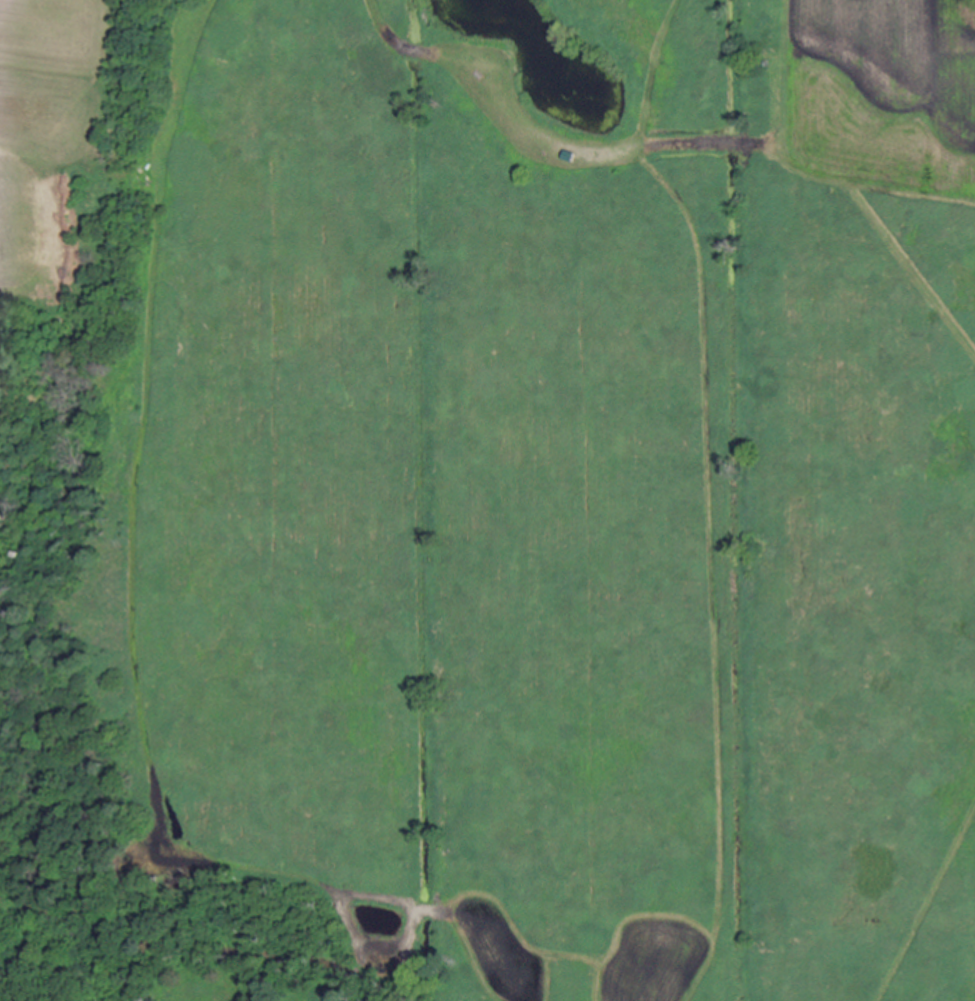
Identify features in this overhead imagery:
river: (207, 878)

